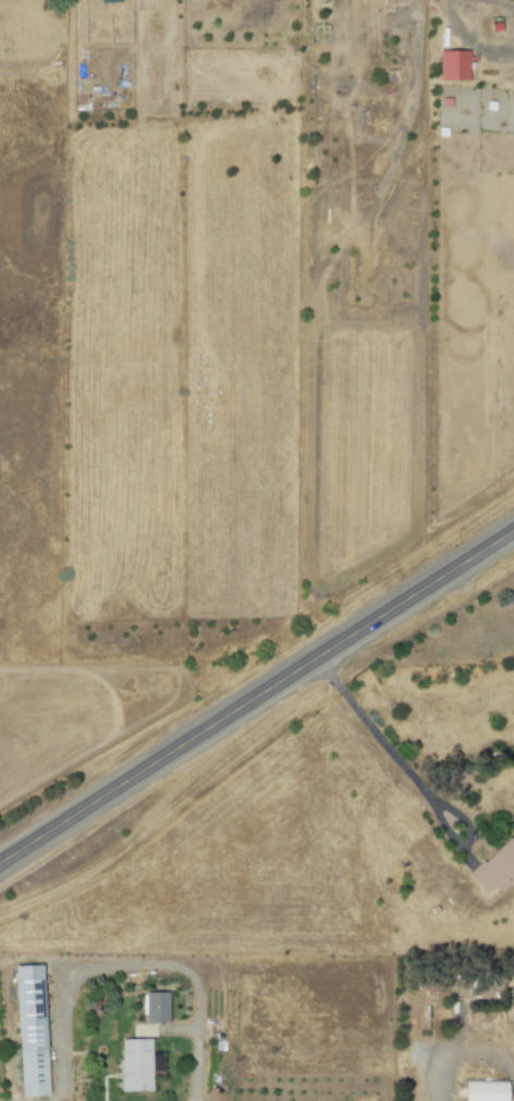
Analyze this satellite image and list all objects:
building: (107, 1)
road: (502, 4)
road: (469, 41)
building: (452, 65)
road: (256, 697)
road: (411, 776)
building: (494, 868)
road: (135, 964)
building: (154, 1006)
building: (28, 1029)
road: (452, 1046)
building: (134, 1064)
building: (481, 1090)

